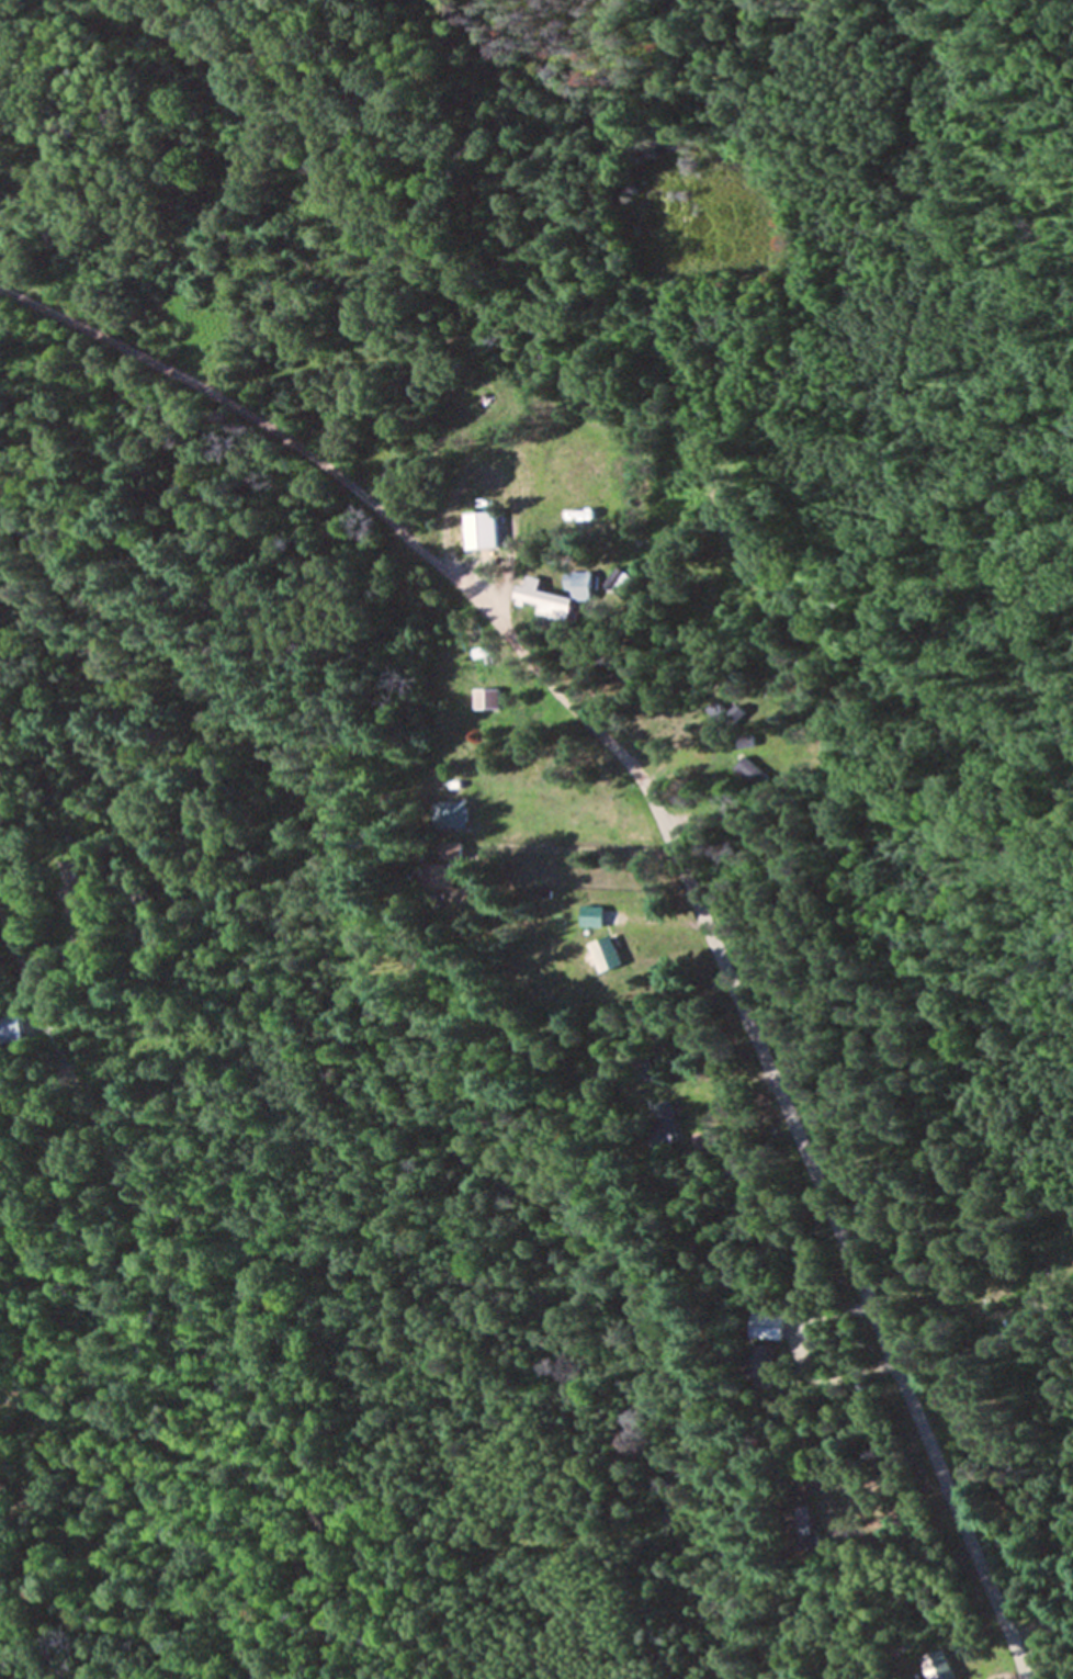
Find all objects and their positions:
road: (357, 493)
building: (572, 498)
building: (482, 531)
building: (557, 595)
building: (489, 699)
building: (745, 771)
building: (453, 815)
building: (454, 852)
road: (580, 852)
building: (443, 877)
building: (76, 897)
building: (594, 917)
building: (607, 955)
building: (12, 1030)
building: (665, 1127)
building: (733, 1170)
road: (833, 1235)
road: (165, 1298)
building: (765, 1327)
building: (757, 1362)
building: (803, 1529)
building: (939, 1666)

